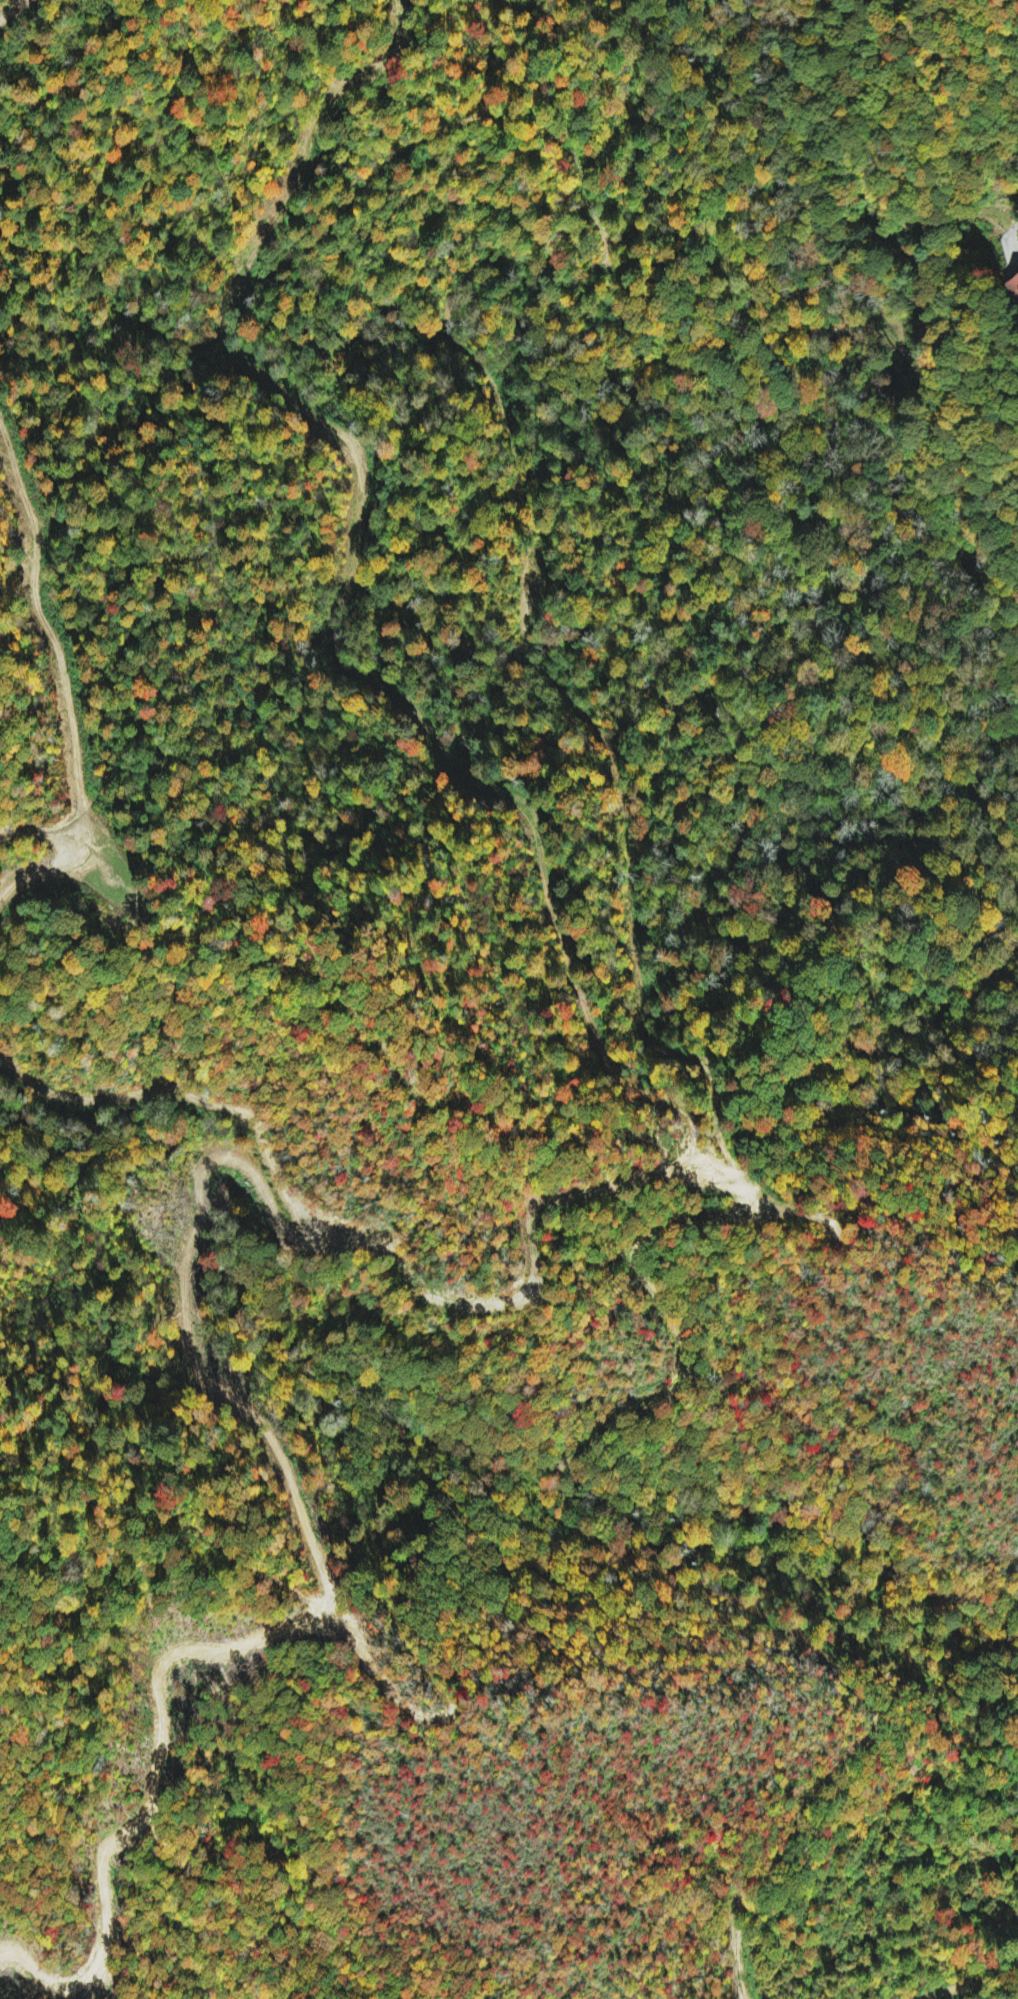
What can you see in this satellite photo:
building: (1014, 287)

